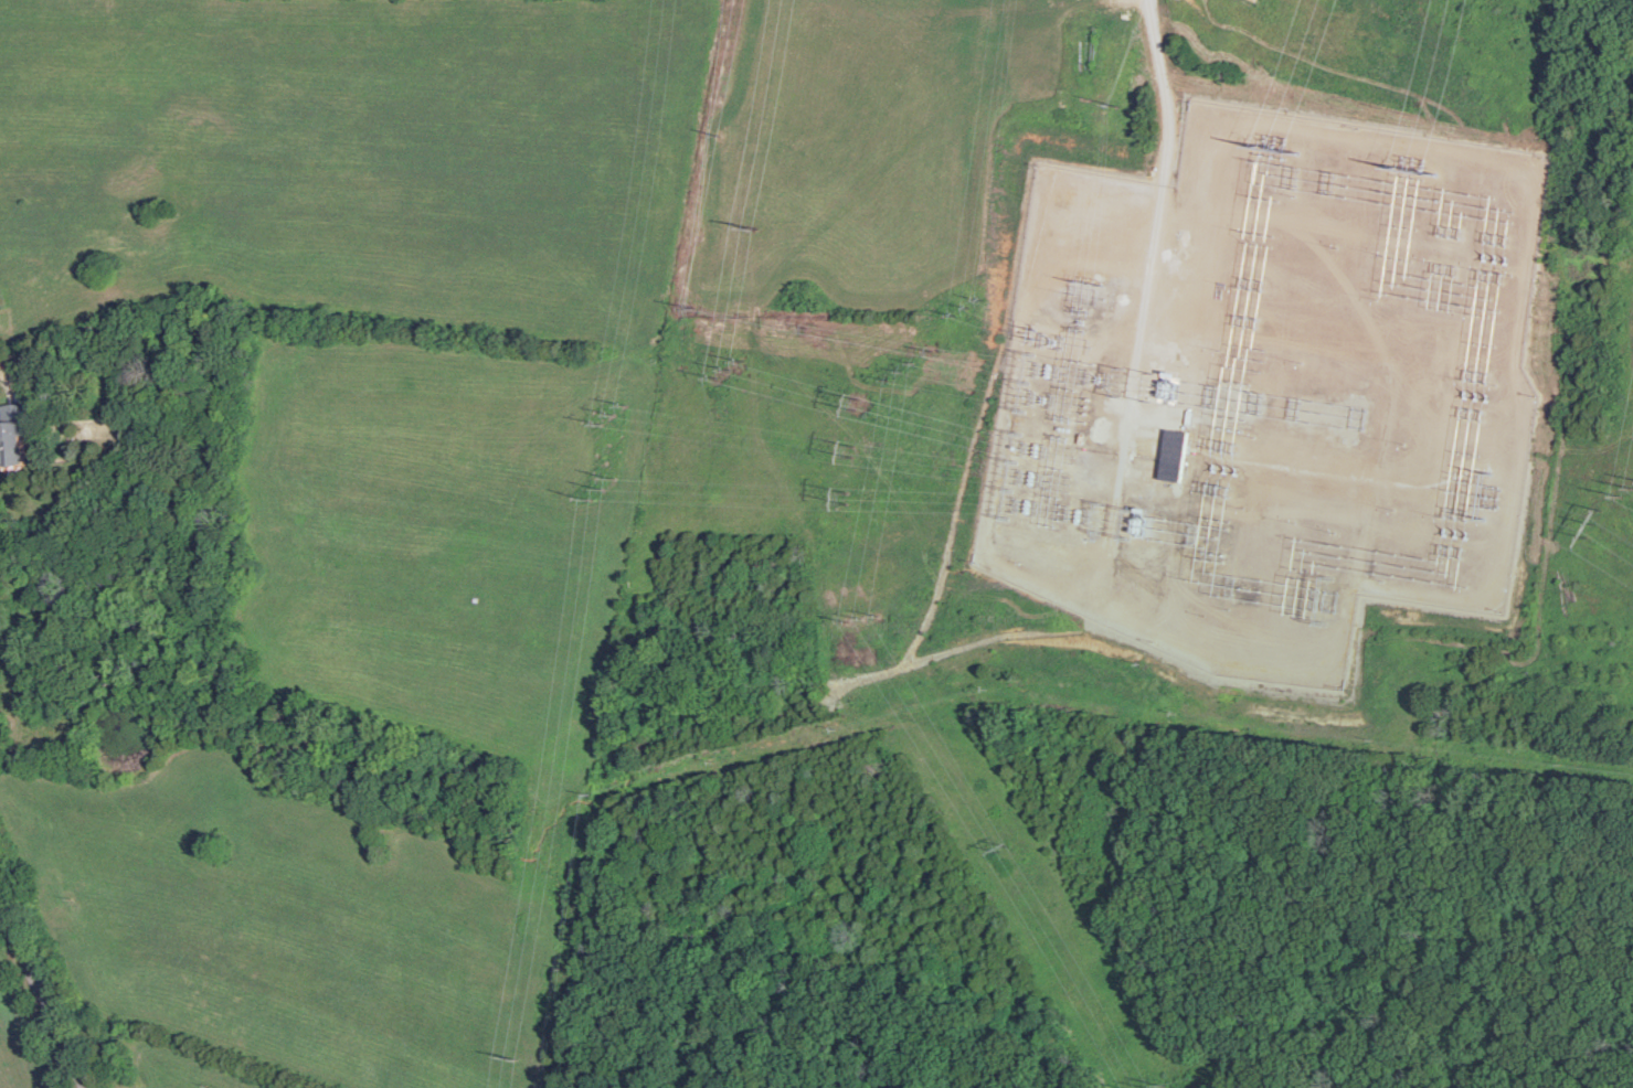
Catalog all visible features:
power tower: (752, 223)
power tower: (968, 305)
power tower: (1051, 335)
power tower: (731, 364)
power tower: (902, 370)
power substation: (1268, 385)
power tower: (856, 402)
power tower: (615, 412)
building: (13, 433)
power tower: (851, 448)
building: (1175, 452)
power tower: (1032, 476)
power tower: (604, 483)
power tower: (850, 493)
power tower: (1593, 522)
power tower: (867, 617)
road: (102, 727)
power tower: (1005, 846)
road: (50, 982)
power tower: (513, 1055)
power tower: (1155, 1087)

